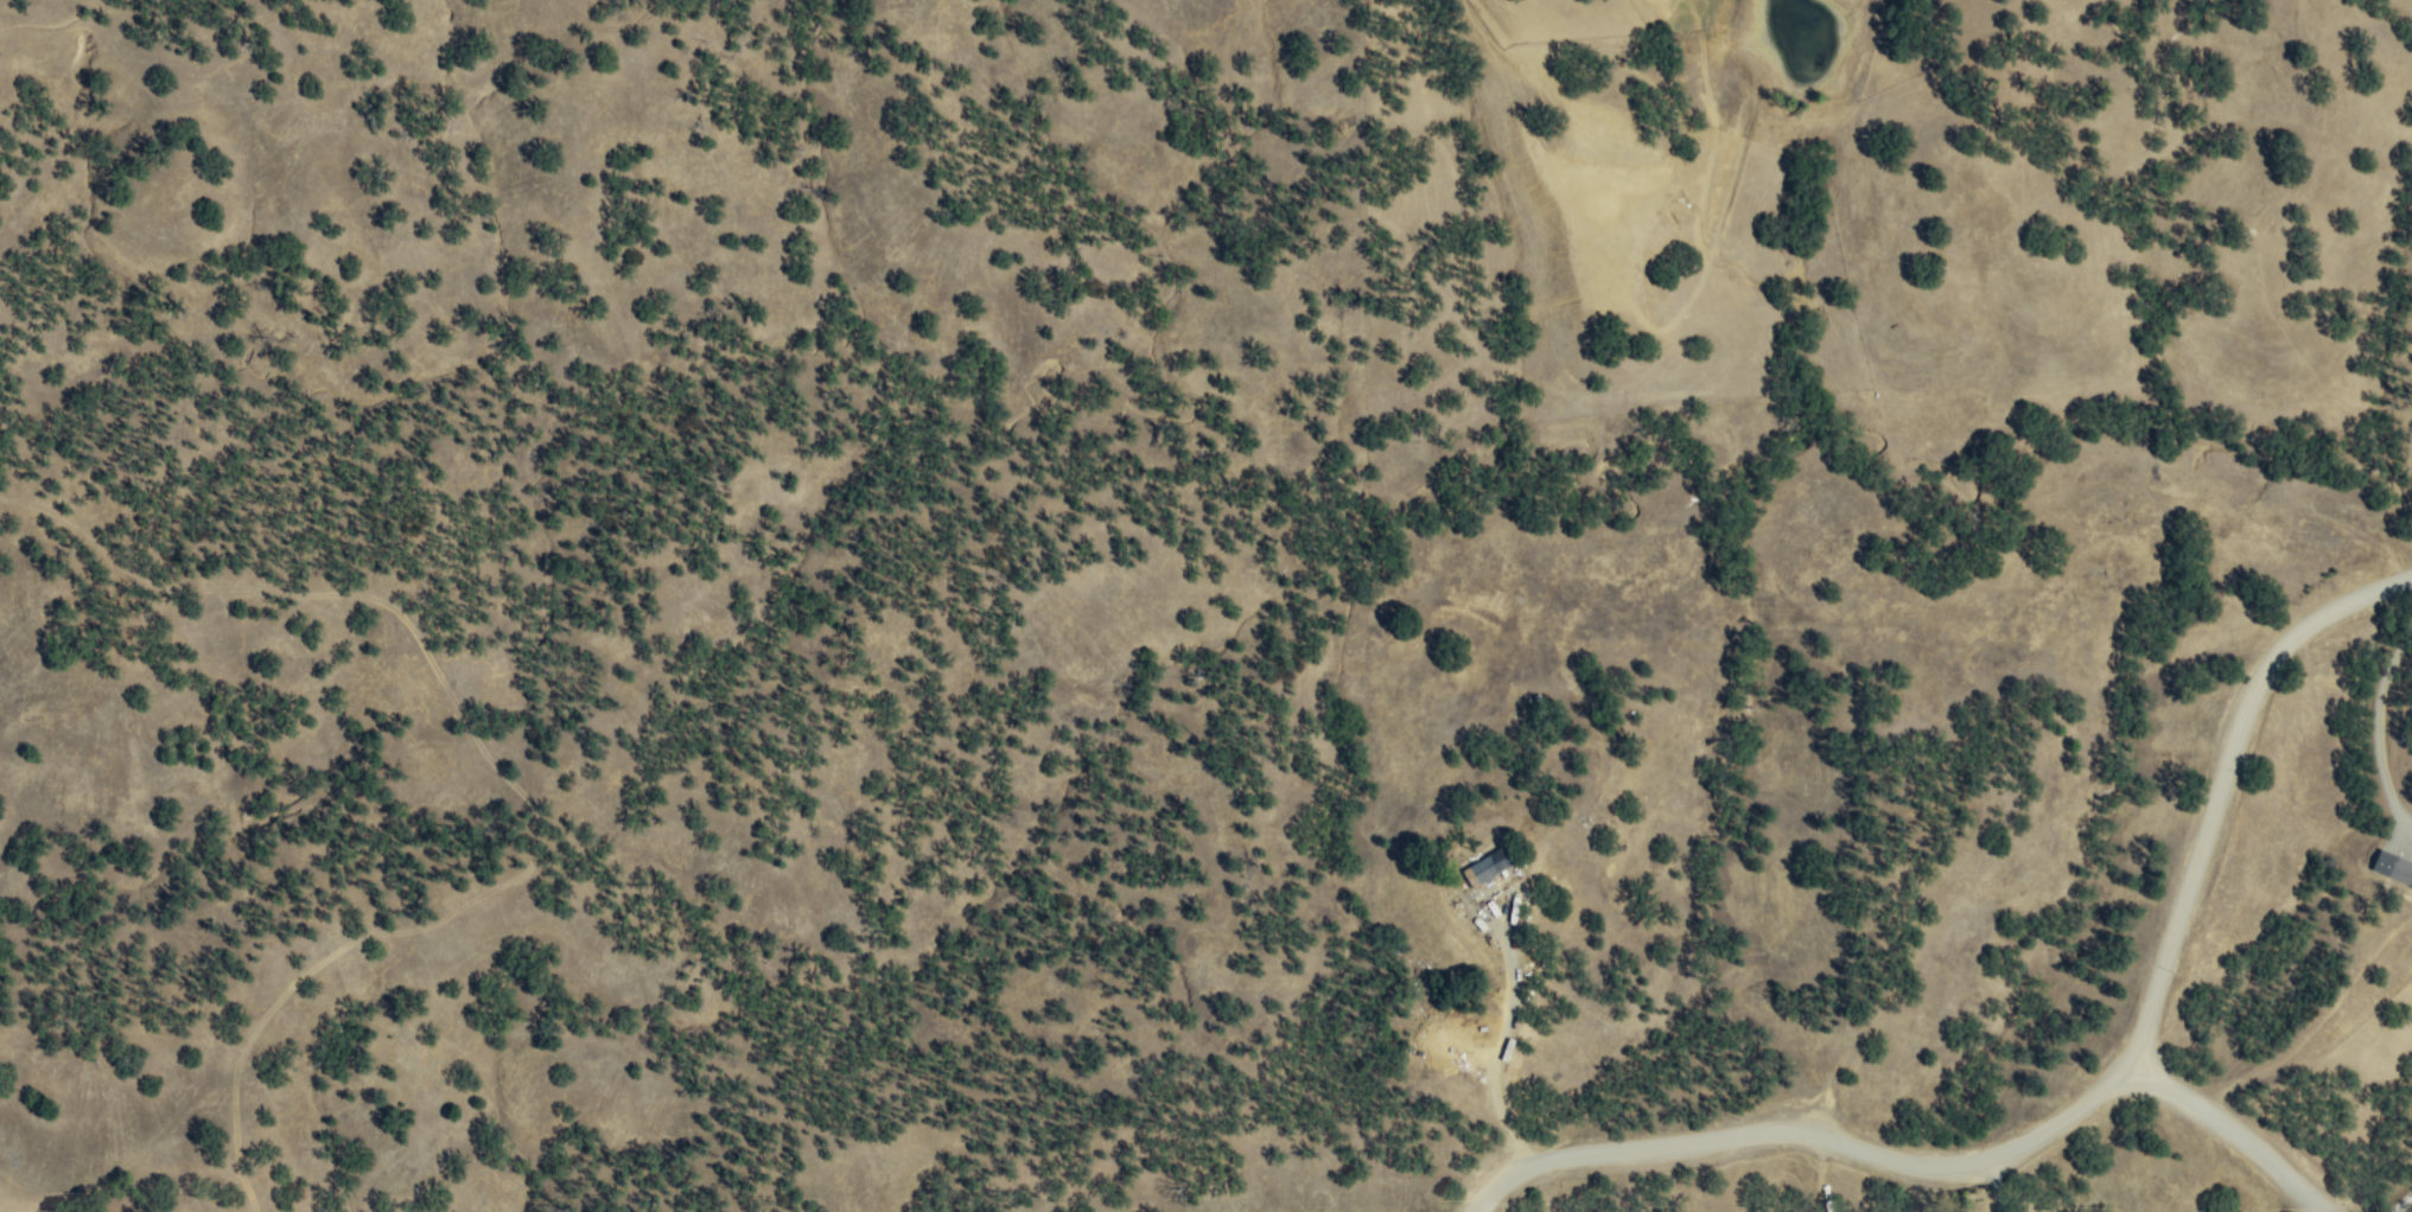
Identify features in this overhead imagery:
road: (2382, 731)
road: (2222, 778)
building: (2393, 866)
building: (2411, 886)
road: (1504, 1050)
road: (2238, 1131)
road: (1814, 1136)

